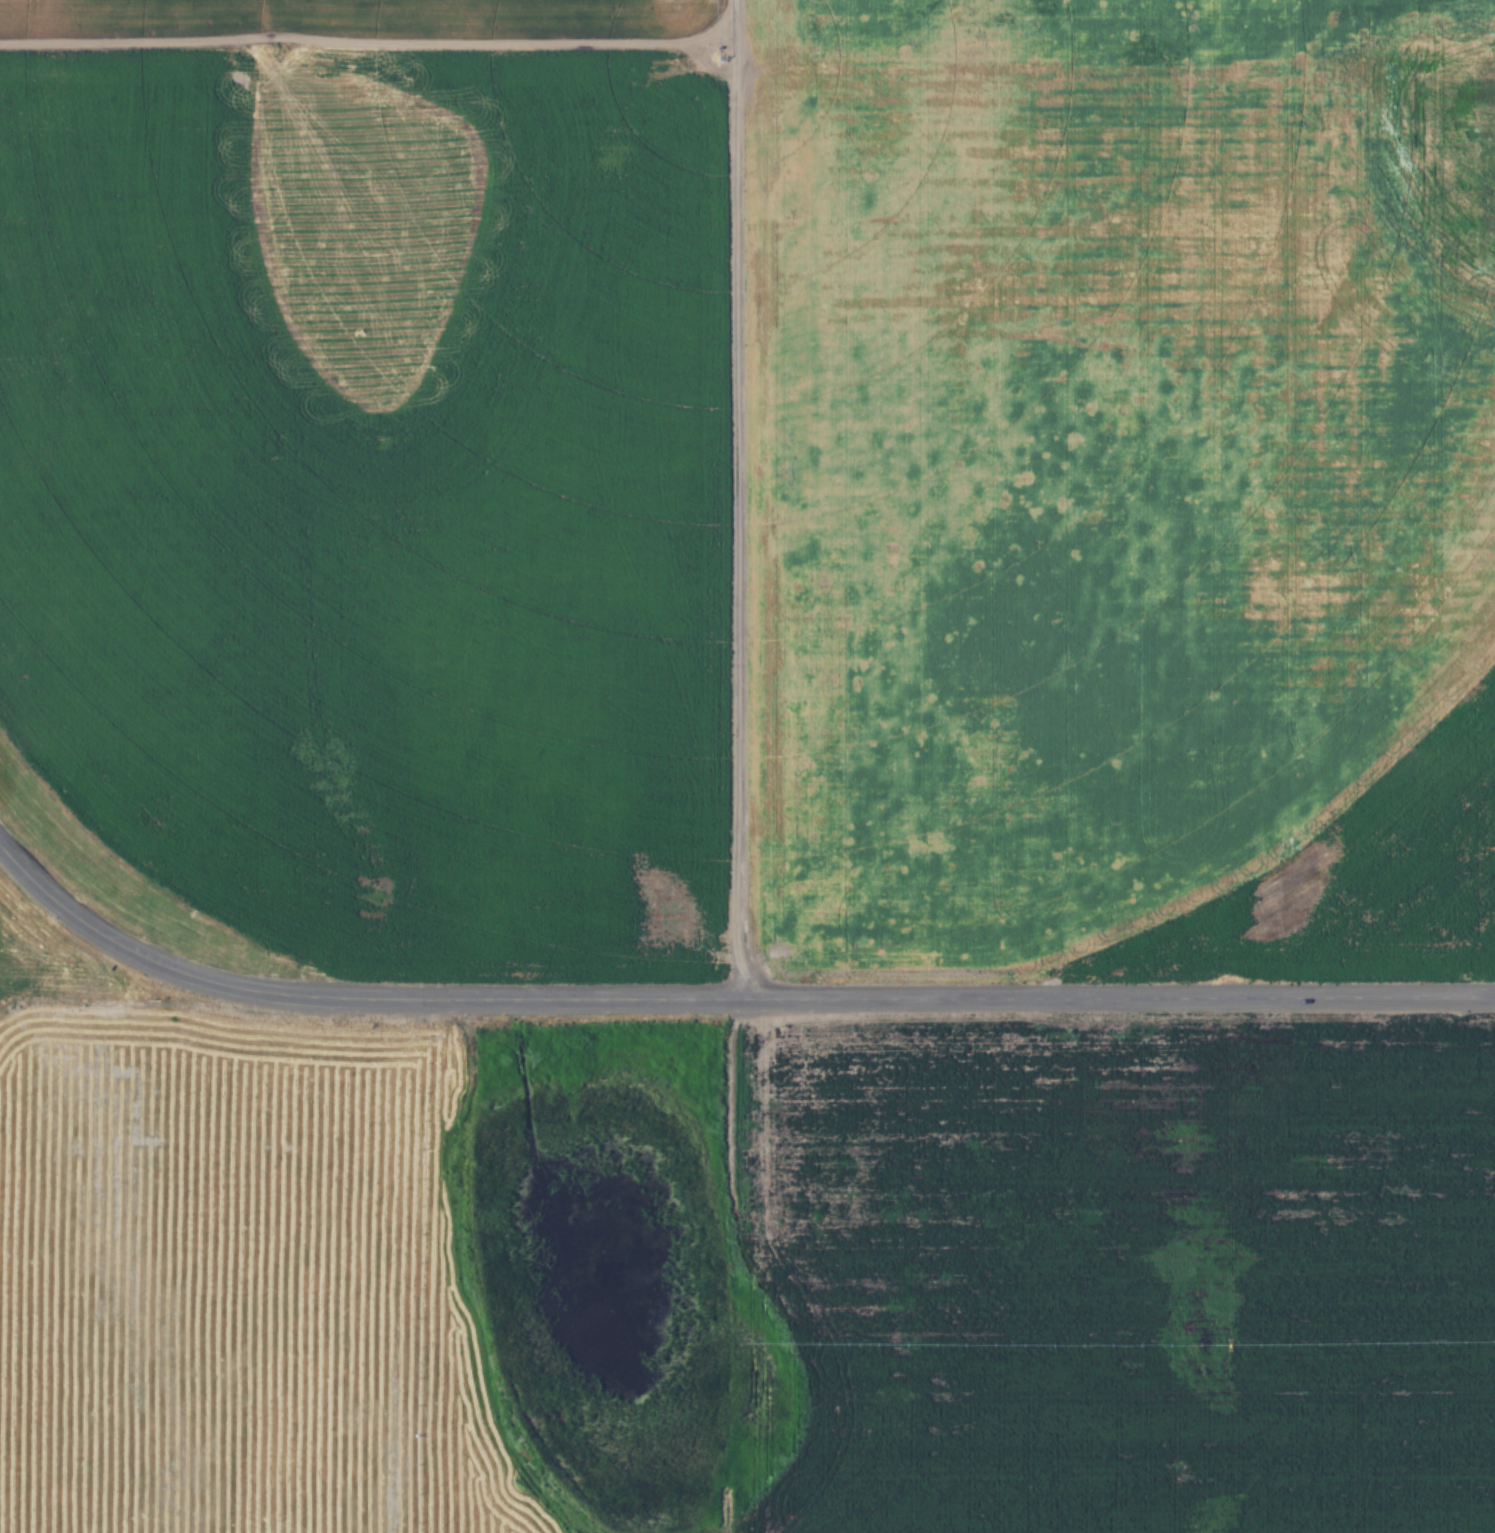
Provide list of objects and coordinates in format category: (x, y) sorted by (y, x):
crop: (1094, 451)
road: (723, 993)

